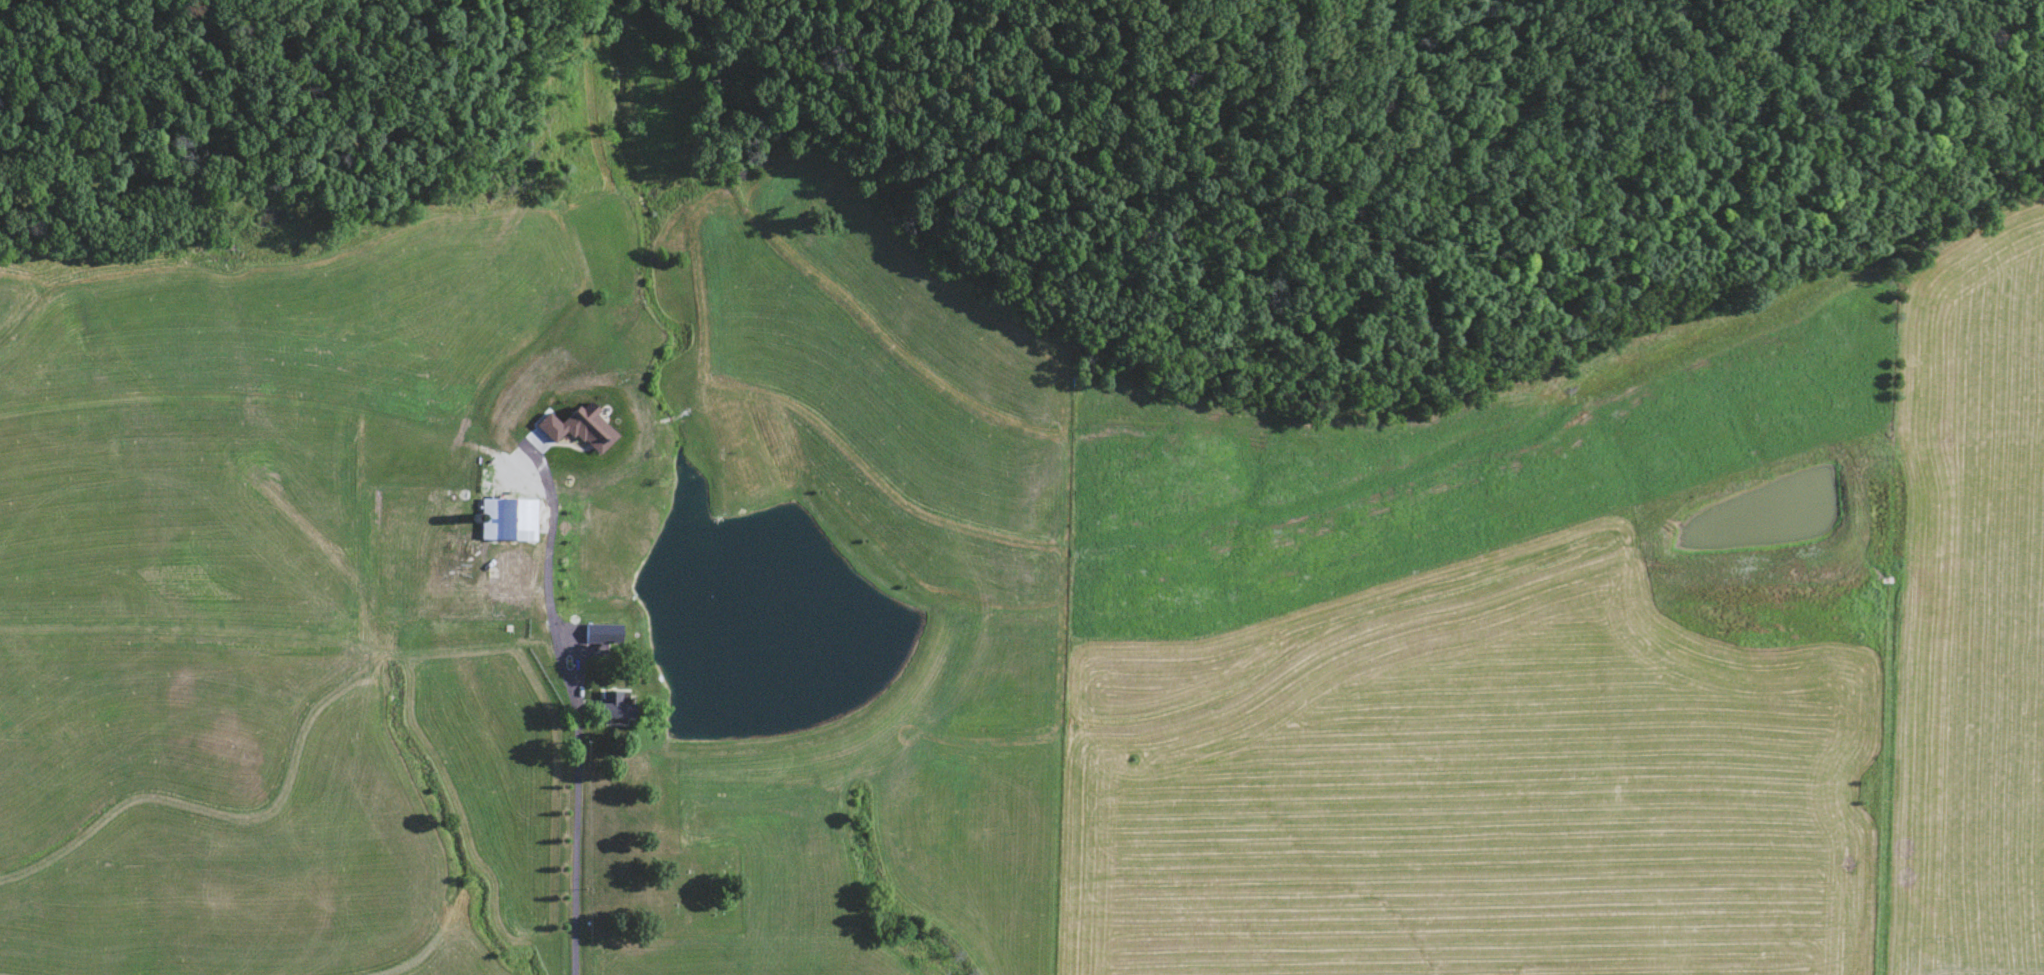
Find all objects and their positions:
building: (571, 529)
building: (570, 561)
road: (547, 602)
building: (609, 629)
building: (614, 705)
road: (574, 837)
park: (693, 887)

